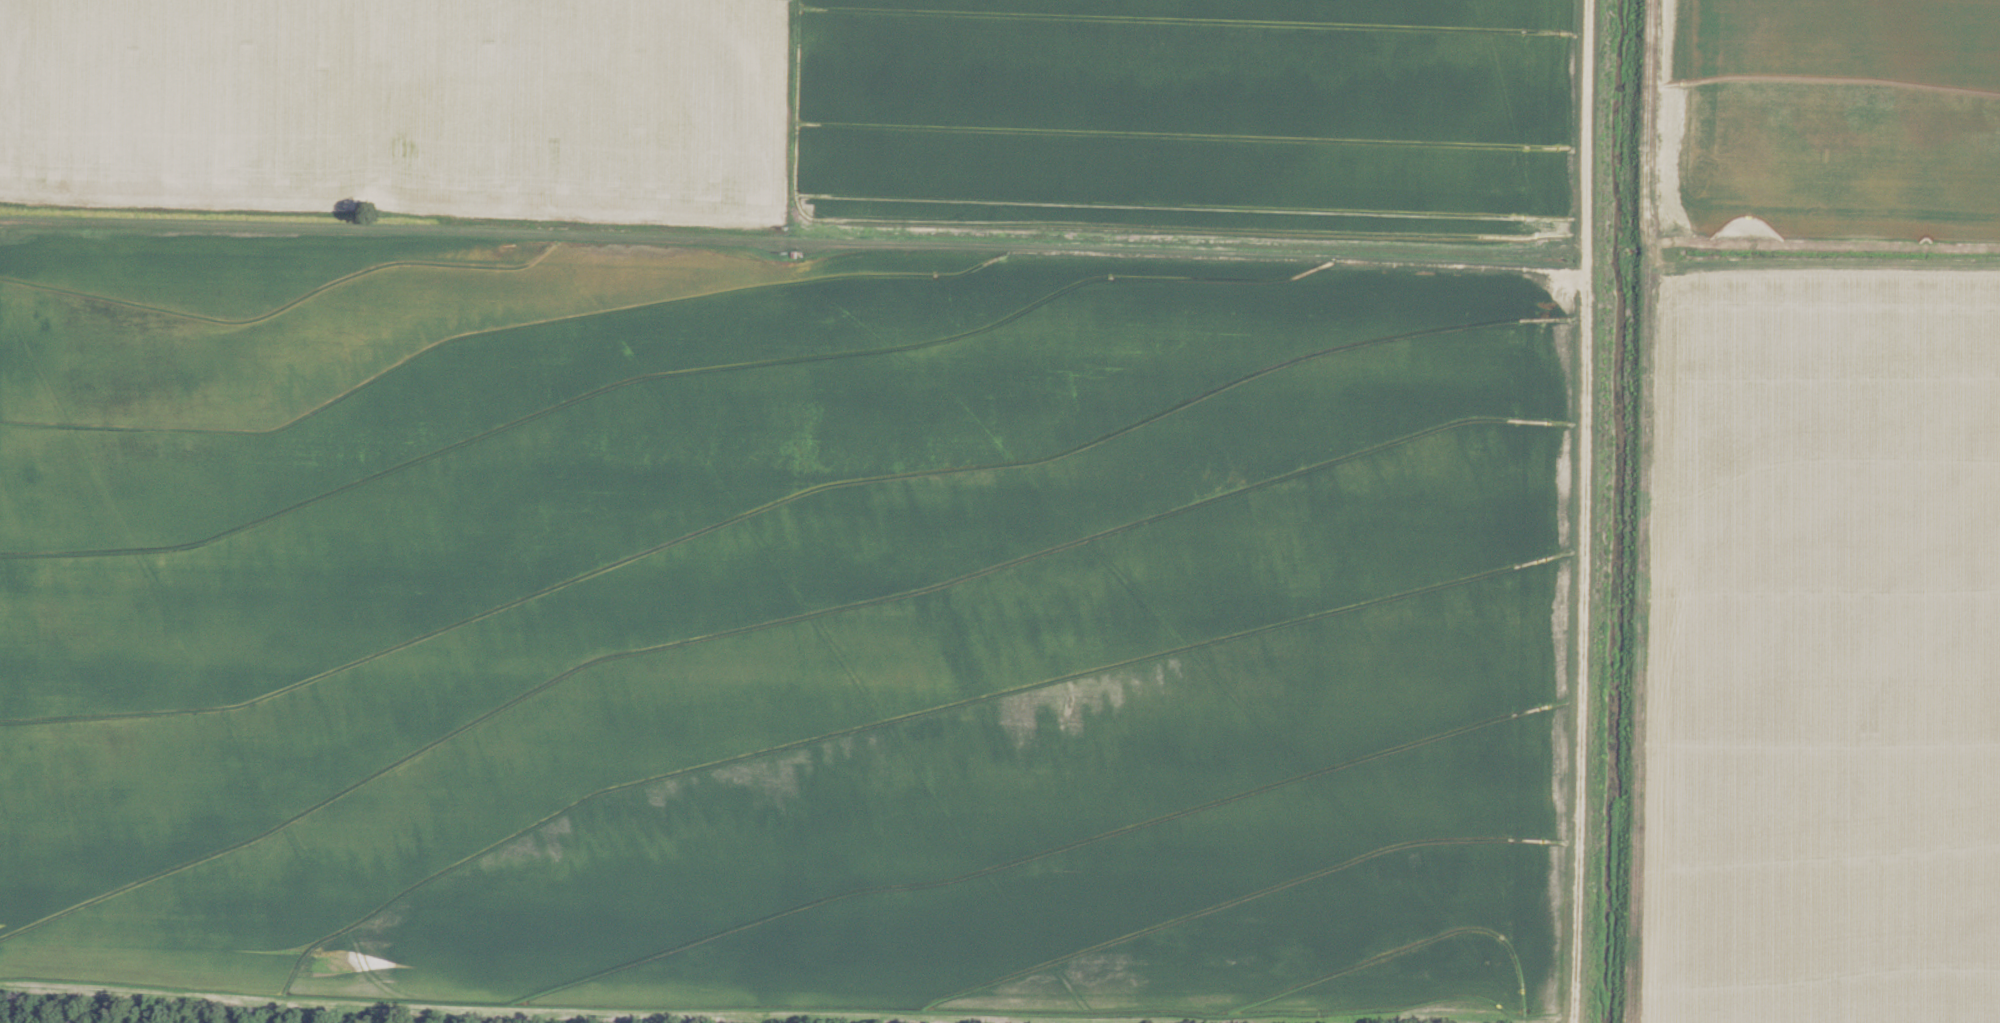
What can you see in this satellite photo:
road: (1587, 511)

